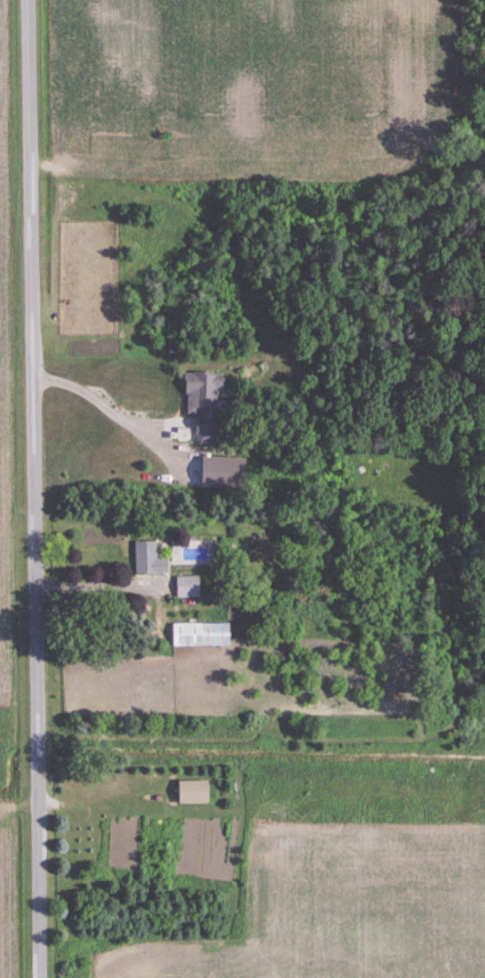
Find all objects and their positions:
road: (95, 399)
building: (201, 404)
road: (30, 488)
building: (144, 559)
road: (95, 584)
building: (186, 587)
building: (198, 635)
building: (191, 792)

